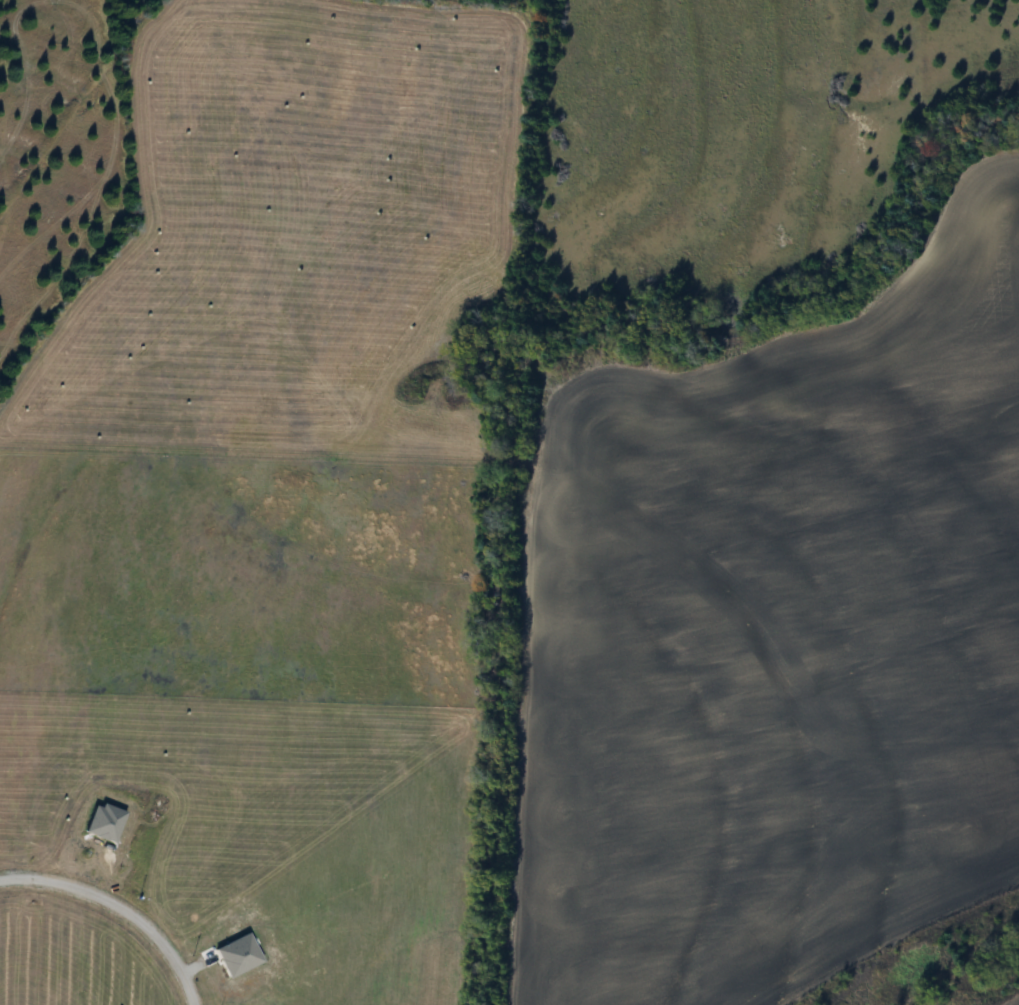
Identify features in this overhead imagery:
road: (122, 906)

